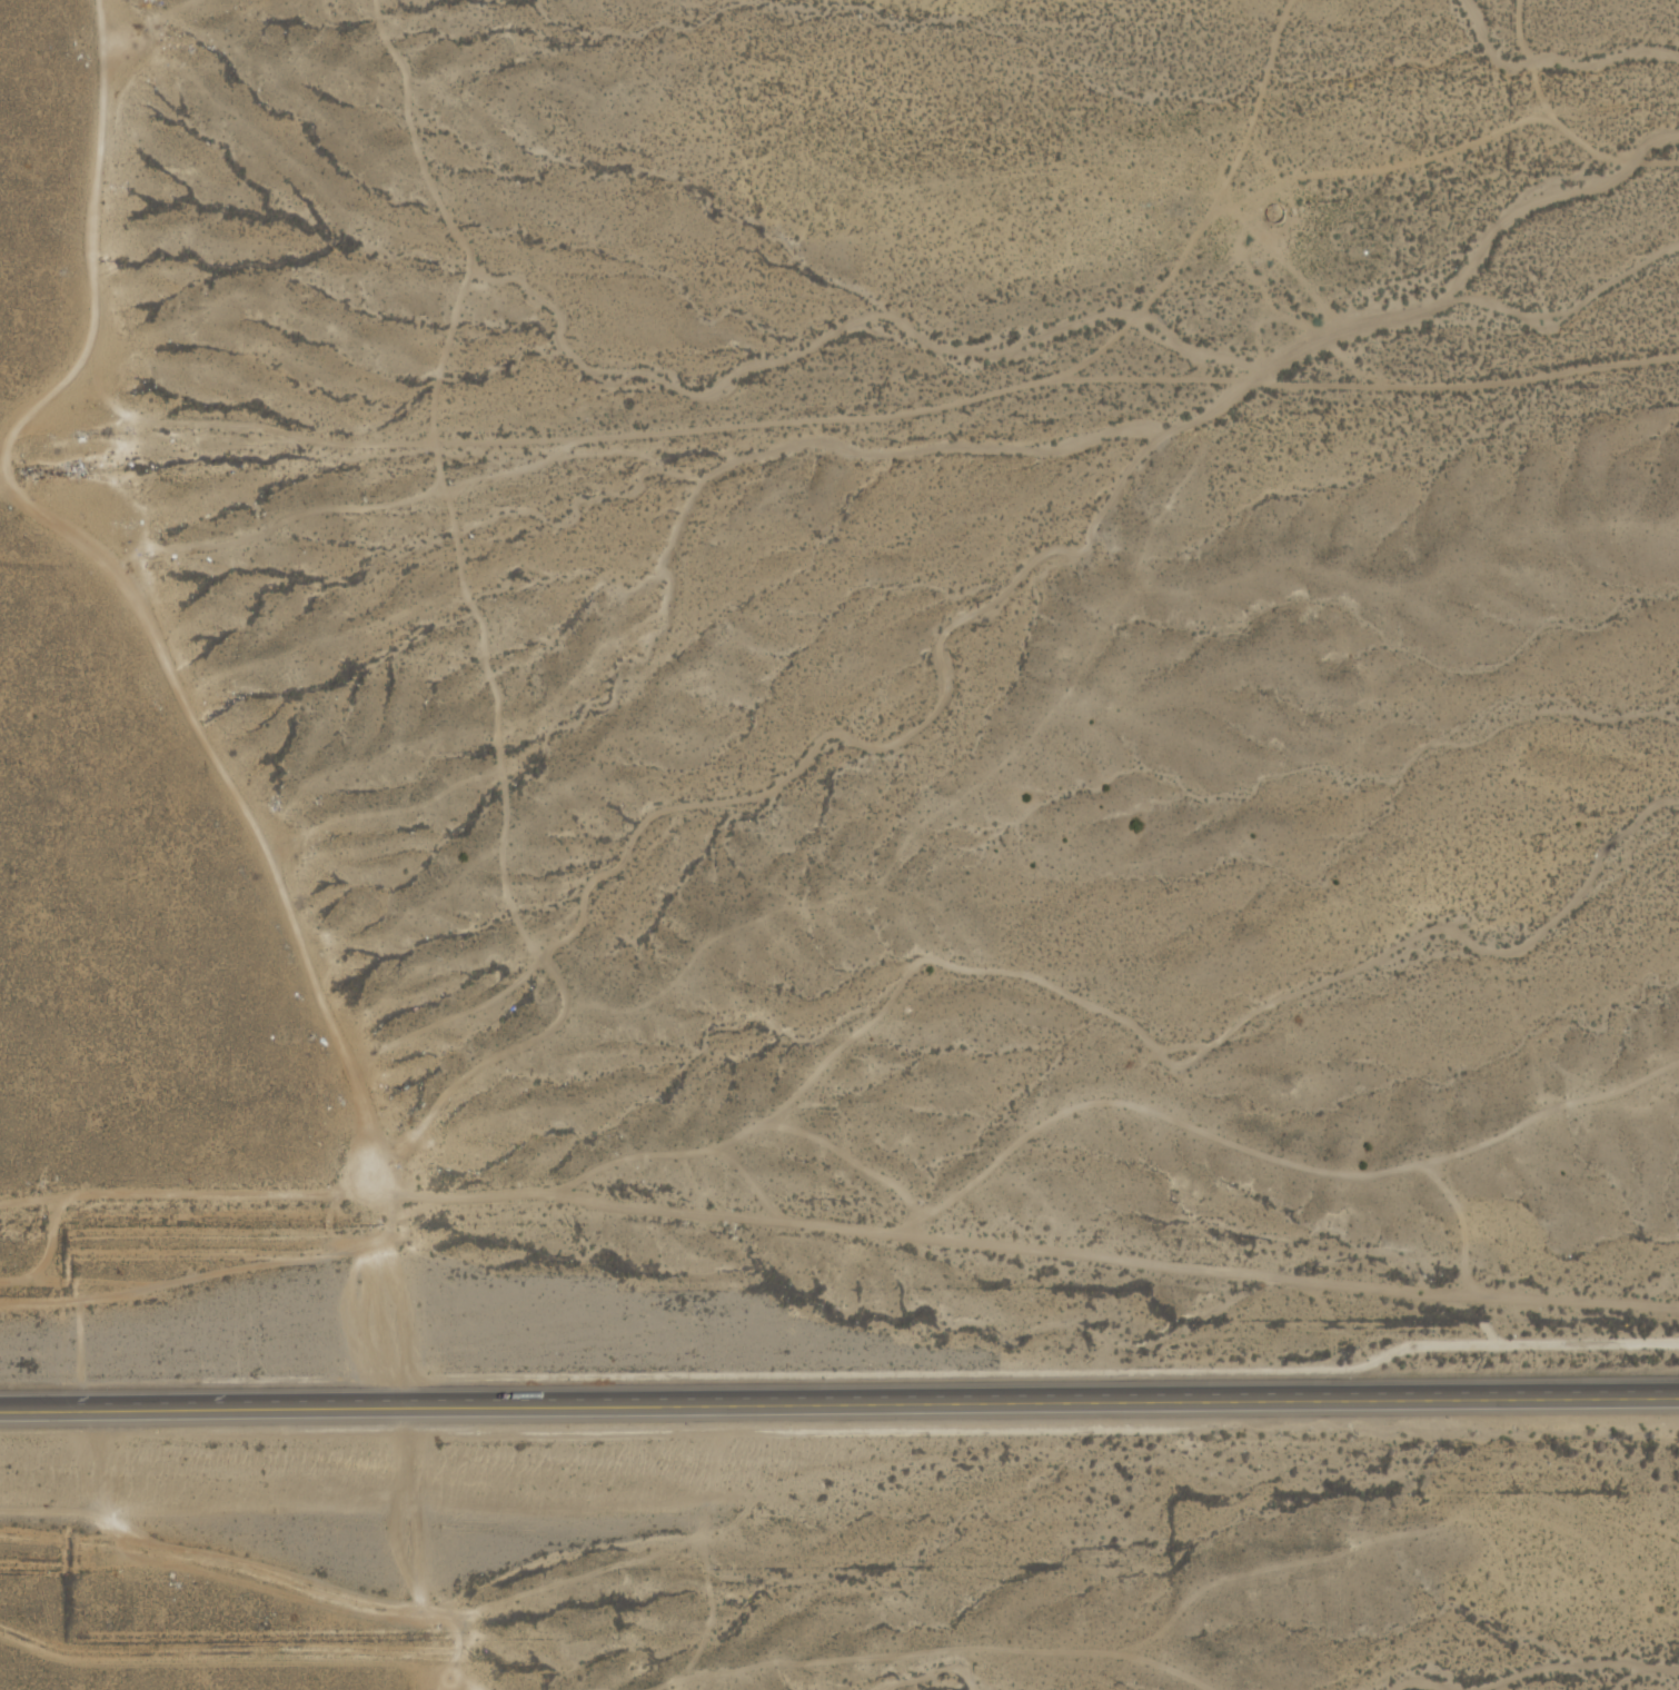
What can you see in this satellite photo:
road: (103, 240)
road: (289, 895)
road: (838, 1398)
road: (437, 1683)

